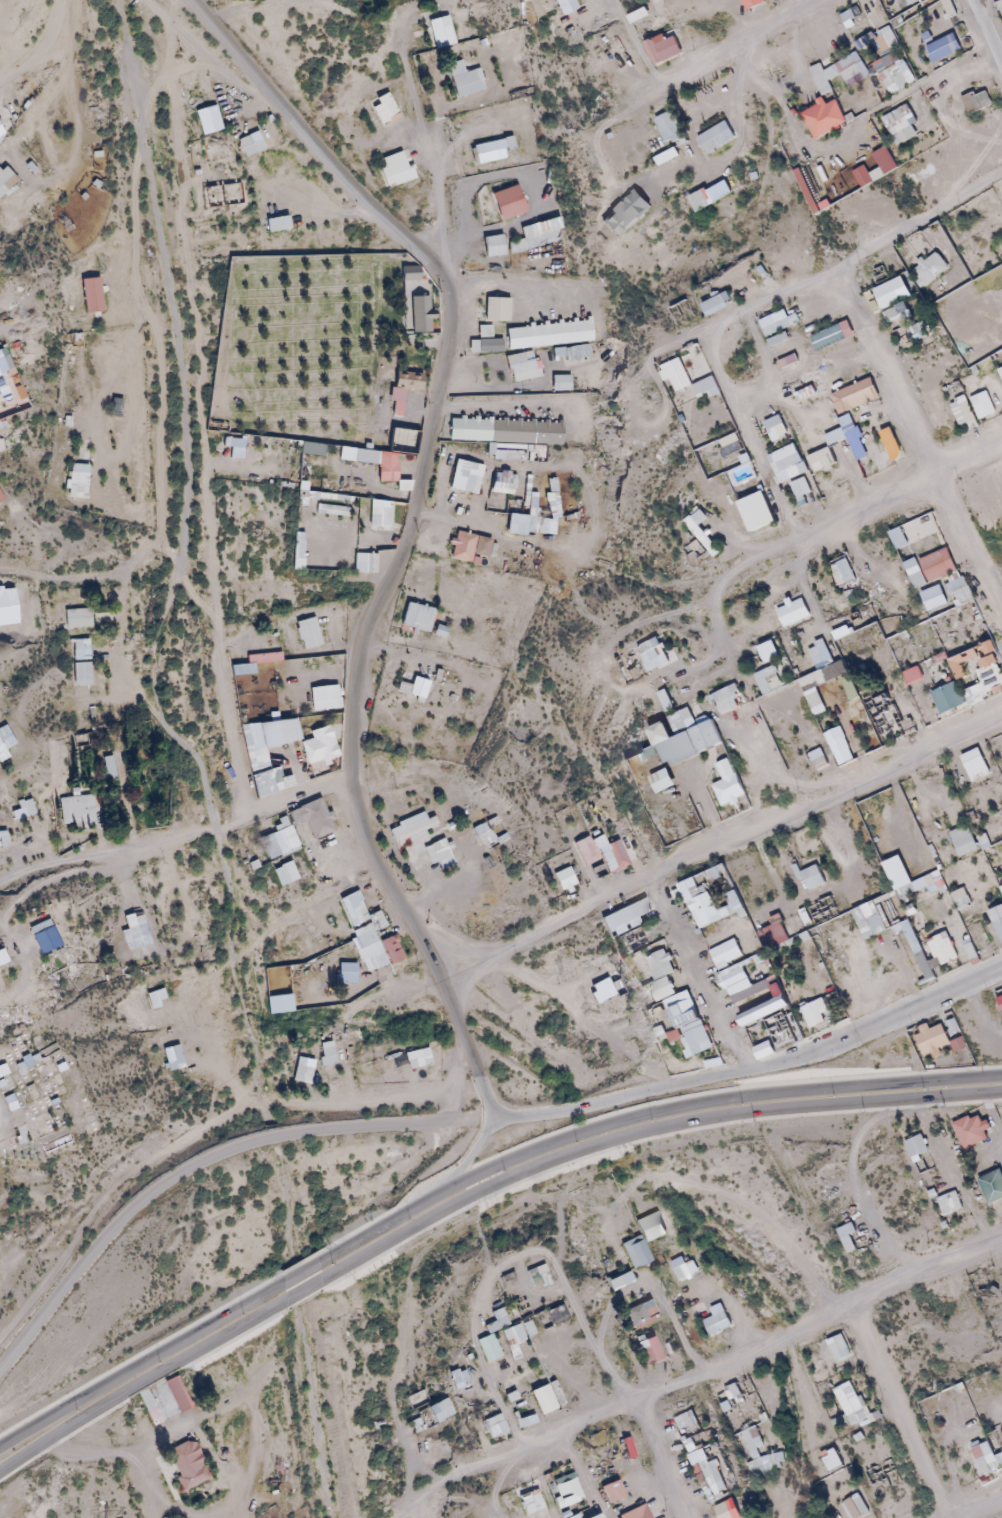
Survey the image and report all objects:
park: (2, 987)
park: (39, 1102)
road: (981, 1508)

